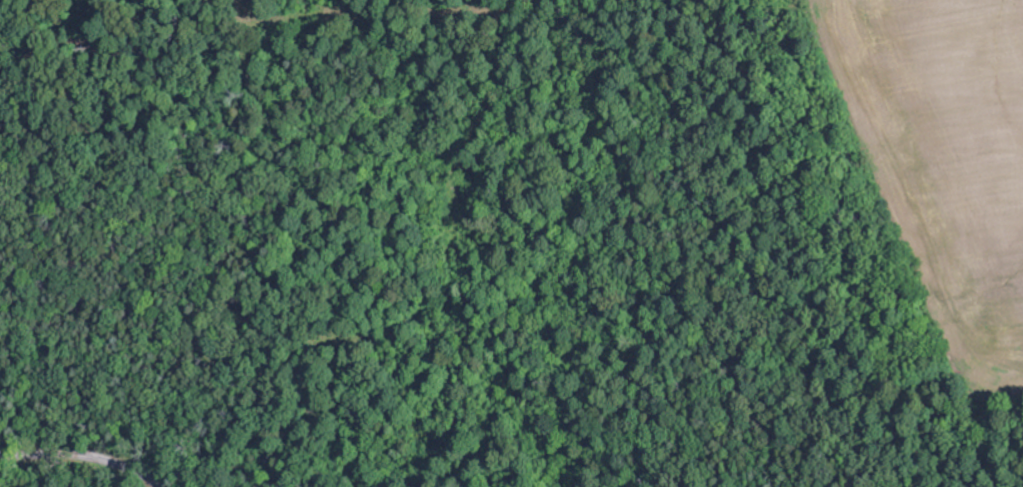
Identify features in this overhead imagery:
road: (80, 461)

